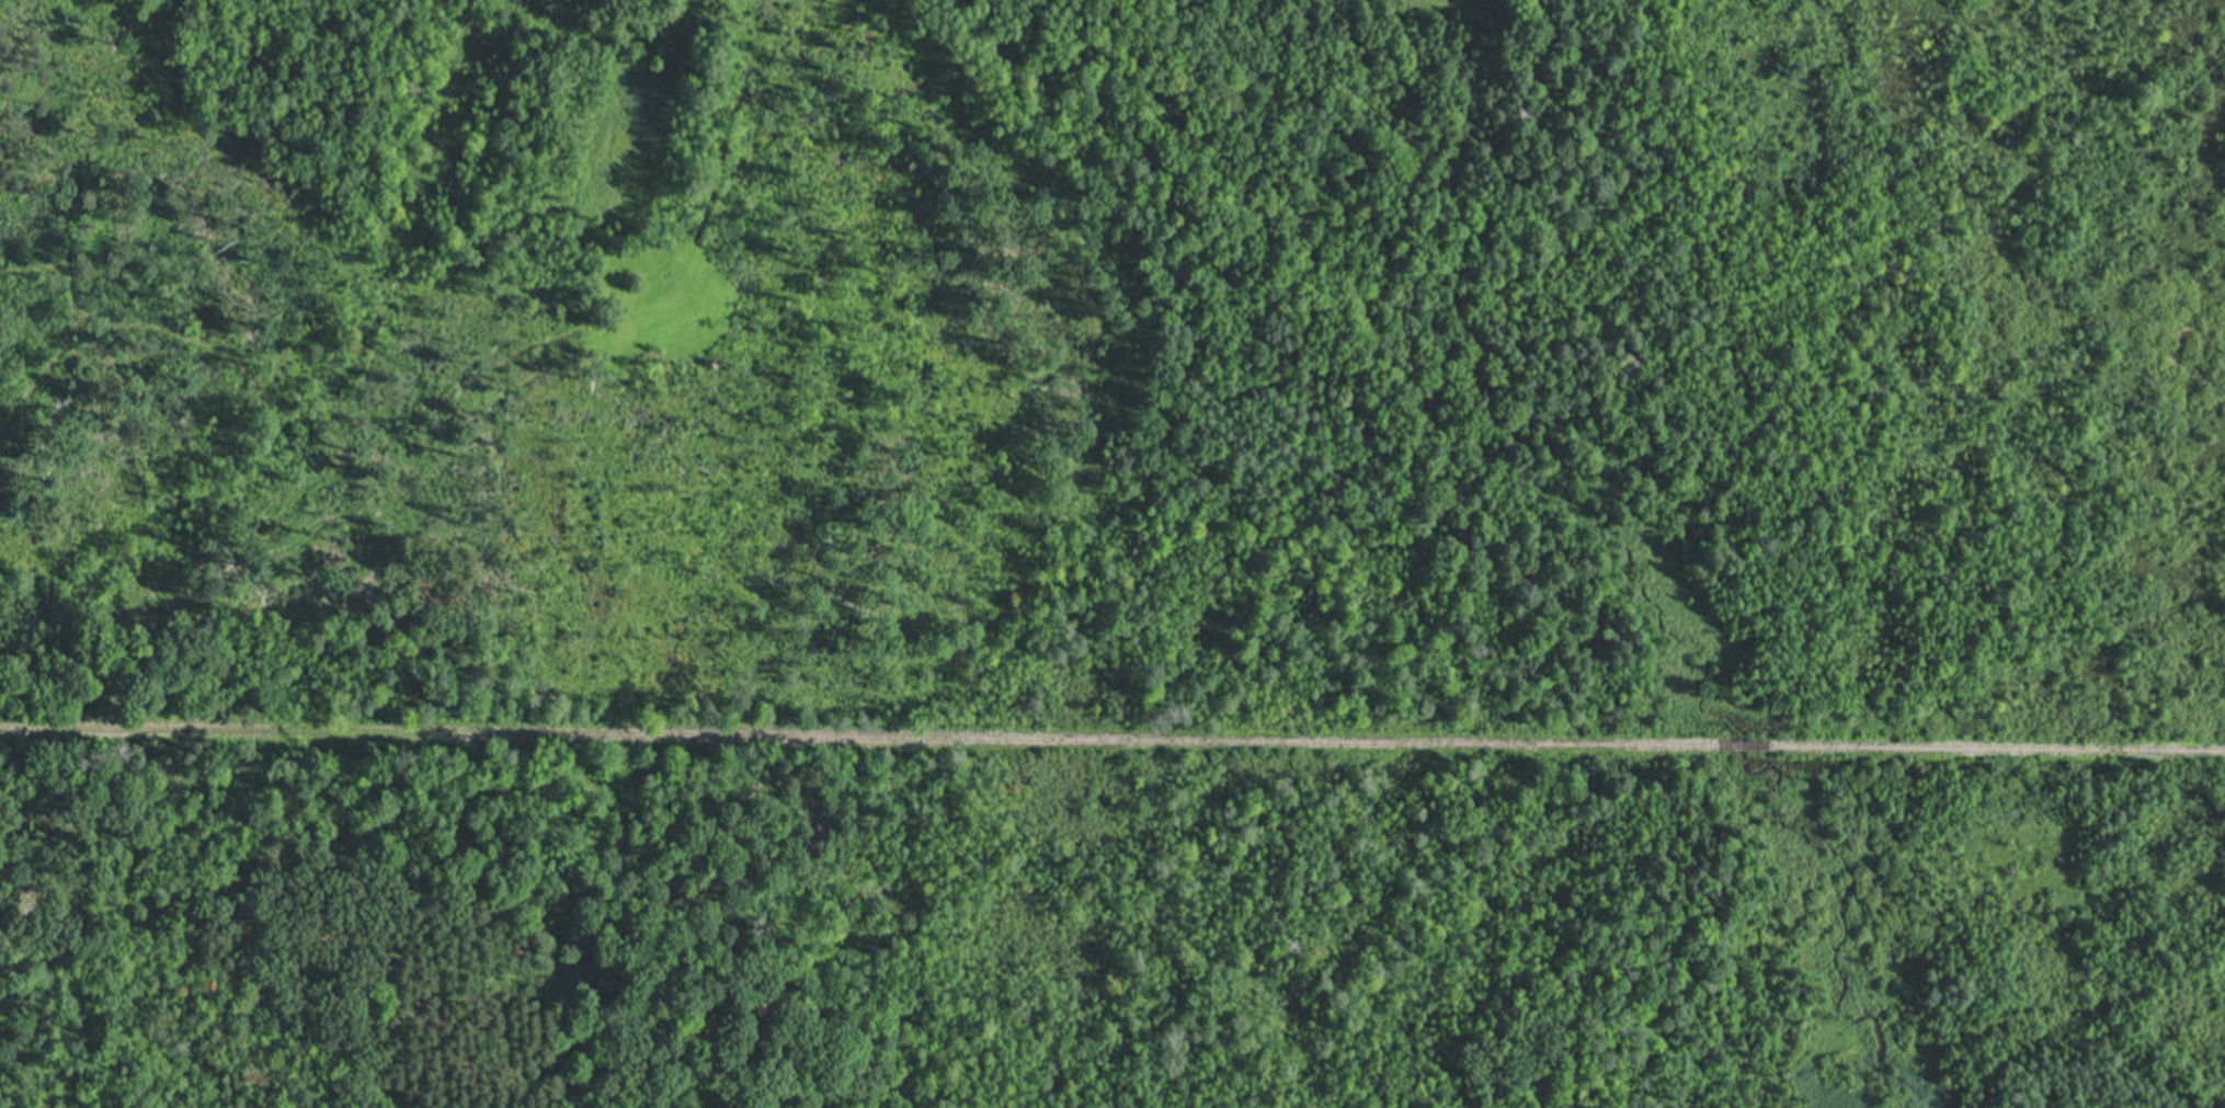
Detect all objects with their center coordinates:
railway: (1111, 738)

